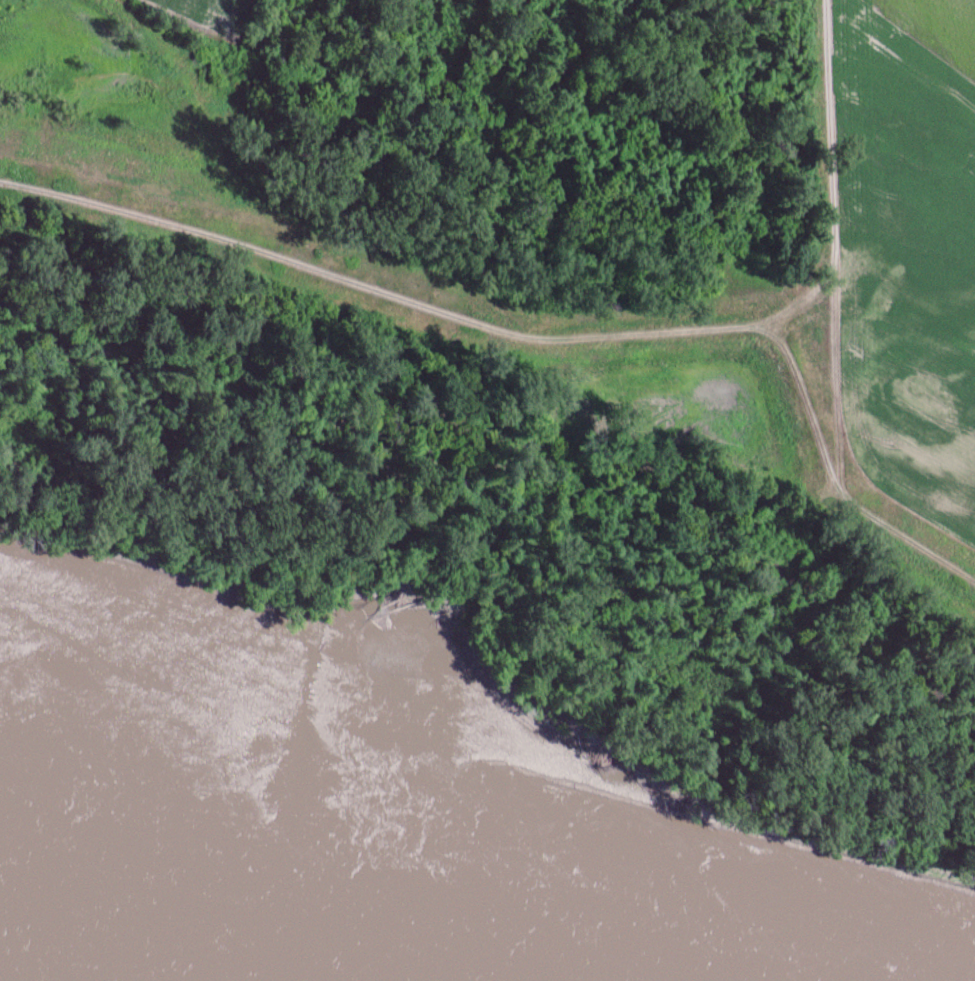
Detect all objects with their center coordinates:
road: (833, 234)
road: (541, 339)

